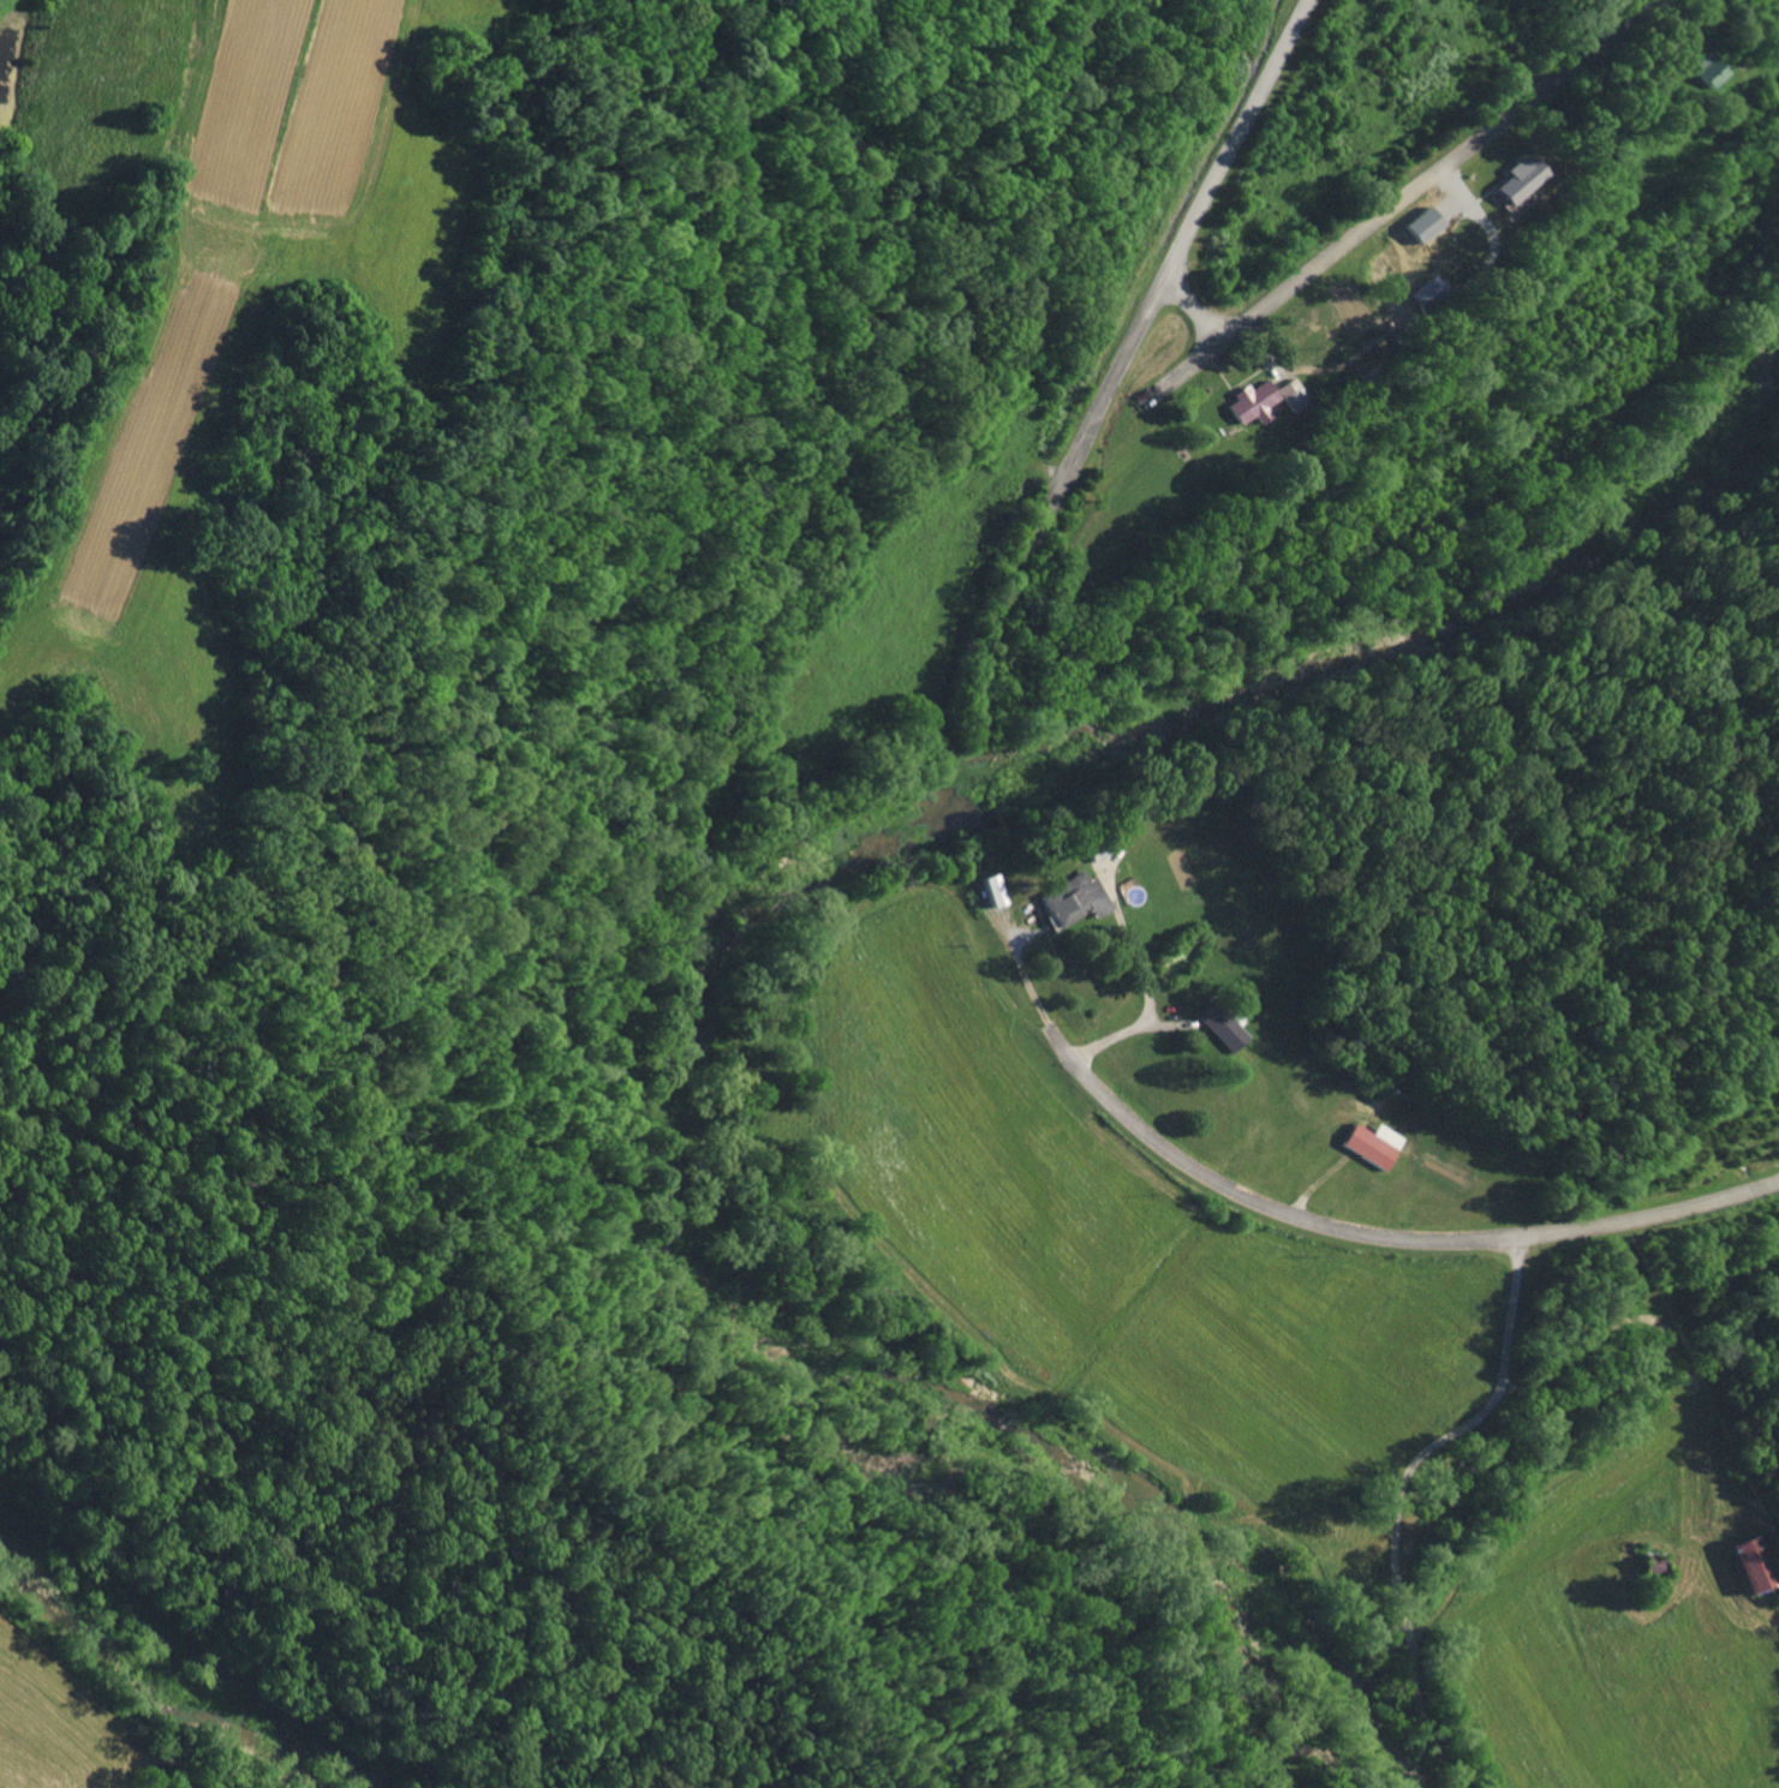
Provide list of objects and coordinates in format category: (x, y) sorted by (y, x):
building: (1707, 70)
road: (1230, 94)
building: (1518, 179)
road: (1151, 274)
building: (1429, 291)
building: (1293, 393)
building: (1253, 402)
road: (991, 799)
building: (1074, 898)
building: (1222, 1025)
building: (1373, 1142)
road: (1385, 1496)
building: (1751, 1563)
road: (214, 1627)

